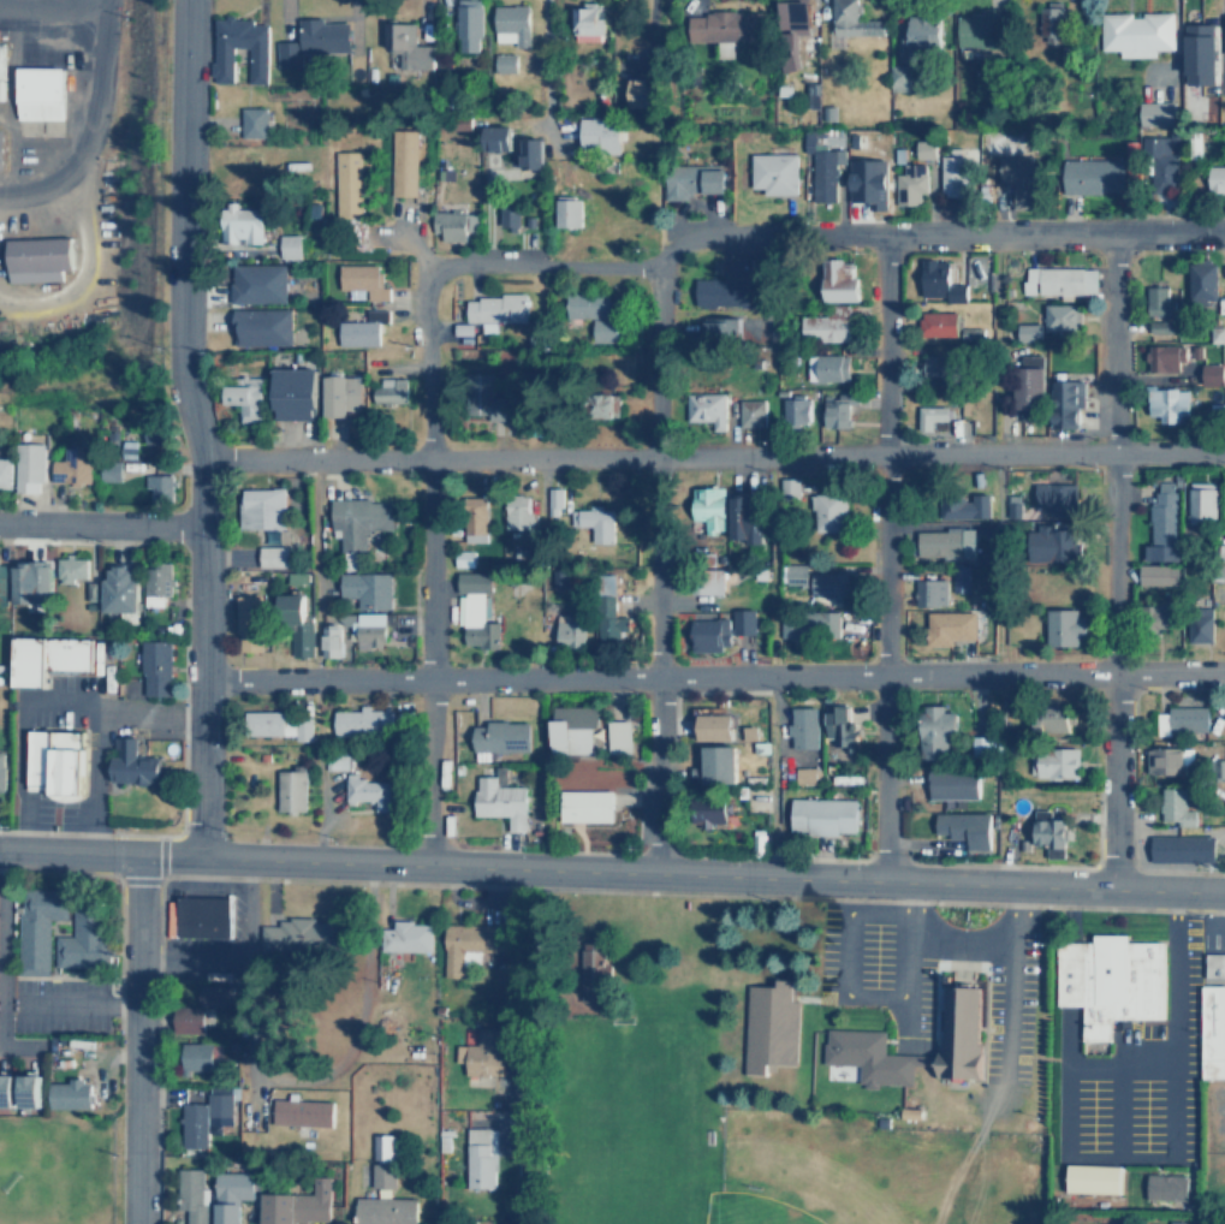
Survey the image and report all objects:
road: (111, 2)
road: (54, 6)
building: (582, 20)
building: (850, 22)
building: (1048, 22)
building: (795, 24)
building: (507, 25)
building: (721, 25)
building: (464, 28)
building: (918, 28)
building: (974, 29)
building: (1134, 32)
building: (310, 42)
building: (1199, 46)
building: (402, 48)
building: (0, 59)
building: (501, 63)
building: (218, 66)
building: (634, 91)
building: (38, 93)
building: (1153, 113)
building: (251, 121)
road: (665, 124)
road: (91, 129)
building: (595, 133)
building: (489, 136)
building: (0, 144)
building: (924, 148)
building: (528, 151)
building: (399, 159)
building: (819, 170)
building: (1010, 170)
building: (949, 172)
building: (1159, 172)
building: (768, 173)
building: (1089, 176)
building: (690, 179)
building: (1213, 179)
building: (868, 180)
building: (345, 185)
building: (908, 185)
building: (565, 210)
building: (503, 214)
building: (237, 225)
building: (446, 225)
road: (182, 230)
road: (792, 236)
building: (285, 246)
building: (35, 260)
road: (77, 271)
building: (355, 278)
building: (836, 279)
building: (935, 281)
building: (1051, 281)
building: (1199, 283)
building: (252, 286)
building: (732, 290)
building: (1158, 302)
building: (486, 314)
building: (588, 315)
building: (1058, 319)
building: (934, 323)
building: (821, 326)
building: (257, 328)
building: (1158, 329)
building: (358, 331)
building: (1027, 332)
building: (971, 333)
building: (716, 334)
building: (1164, 360)
building: (1063, 364)
building: (825, 368)
building: (936, 372)
building: (1209, 375)
building: (1025, 390)
building: (387, 391)
building: (289, 393)
building: (338, 394)
building: (239, 396)
building: (480, 399)
building: (1062, 404)
building: (1166, 404)
building: (601, 405)
building: (704, 409)
building: (793, 409)
building: (834, 410)
building: (749, 414)
building: (927, 416)
road: (712, 457)
building: (28, 467)
building: (71, 467)
building: (4, 473)
building: (159, 487)
building: (787, 489)
building: (1055, 499)
building: (554, 500)
building: (963, 504)
building: (1200, 504)
building: (1013, 505)
building: (706, 506)
building: (260, 507)
building: (826, 511)
building: (516, 512)
building: (743, 518)
building: (472, 519)
building: (355, 521)
building: (593, 523)
building: (1159, 524)
road: (101, 527)
building: (942, 542)
building: (1051, 542)
building: (269, 554)
building: (464, 557)
road: (885, 558)
road: (1113, 562)
road: (429, 565)
building: (71, 569)
road: (655, 569)
building: (796, 574)
building: (1154, 574)
building: (962, 578)
building: (704, 581)
building: (31, 582)
building: (2, 583)
building: (155, 583)
building: (827, 584)
building: (363, 588)
building: (119, 590)
building: (927, 592)
building: (1199, 594)
building: (471, 608)
building: (607, 612)
building: (1152, 614)
building: (246, 623)
building: (808, 624)
building: (1201, 624)
building: (290, 625)
building: (953, 626)
building: (1063, 626)
building: (368, 630)
building: (718, 630)
building: (565, 632)
building: (329, 640)
building: (47, 656)
road: (202, 656)
building: (156, 669)
road: (713, 677)
building: (1047, 719)
building: (1179, 719)
building: (359, 721)
building: (703, 721)
building: (272, 723)
building: (801, 725)
building: (567, 727)
building: (715, 727)
building: (935, 732)
road: (1134, 733)
building: (616, 735)
building: (496, 736)
building: (843, 742)
building: (977, 745)
building: (337, 757)
building: (1162, 759)
building: (129, 761)
building: (1052, 761)
building: (714, 762)
building: (1, 770)
building: (509, 774)
building: (802, 774)
building: (949, 783)
building: (289, 789)
building: (369, 791)
building: (496, 800)
building: (587, 804)
building: (1172, 806)
building: (706, 809)
building: (820, 815)
road: (1099, 824)
building: (962, 826)
building: (1047, 832)
building: (1179, 846)
road: (612, 850)
road: (612, 869)
road: (612, 889)
road: (914, 911)
building: (202, 916)
building: (35, 927)
building: (302, 935)
building: (82, 937)
building: (404, 938)
building: (470, 939)
road: (915, 941)
road: (844, 950)
building: (594, 964)
parking lot: (874, 964)
building: (1213, 964)
road: (0, 967)
road: (120, 967)
building: (1107, 980)
road: (1010, 981)
building: (215, 994)
road: (69, 1000)
building: (185, 1021)
building: (768, 1027)
building: (957, 1028)
building: (1212, 1030)
road: (136, 1039)
road: (539, 1045)
road: (159, 1051)
building: (481, 1051)
building: (194, 1057)
building: (874, 1060)
road: (1117, 1065)
building: (6, 1091)
building: (30, 1091)
building: (67, 1093)
road: (1118, 1111)
building: (301, 1112)
building: (202, 1115)
park: (748, 1142)
road: (1170, 1143)
building: (476, 1158)
building: (380, 1160)
park: (54, 1169)
building: (1094, 1177)
building: (1167, 1187)
building: (228, 1195)
building: (189, 1196)
building: (295, 1205)
park: (750, 1210)
building: (382, 1211)

